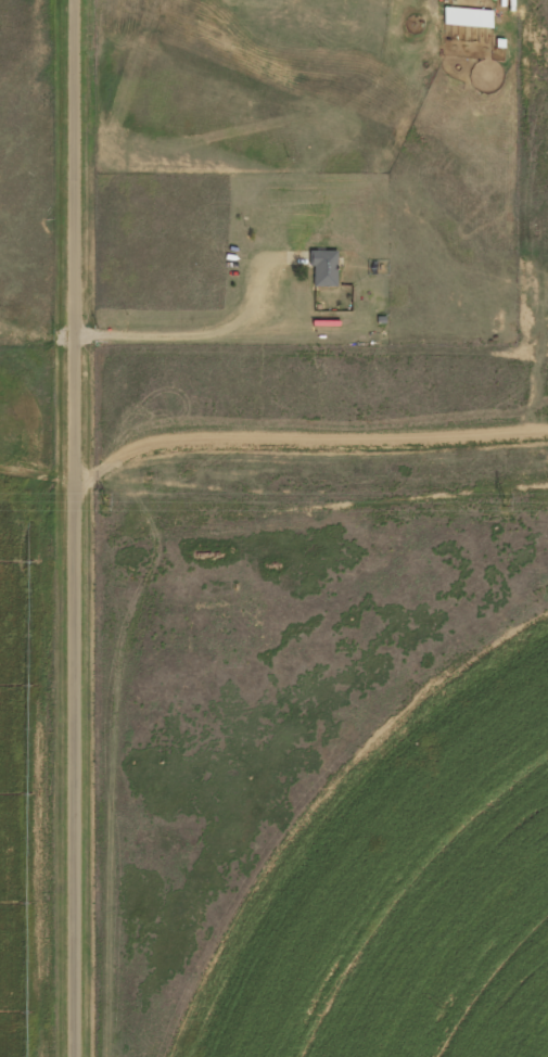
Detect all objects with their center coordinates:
building: (324, 267)
power tower: (102, 501)
power tower: (502, 504)
road: (75, 528)

